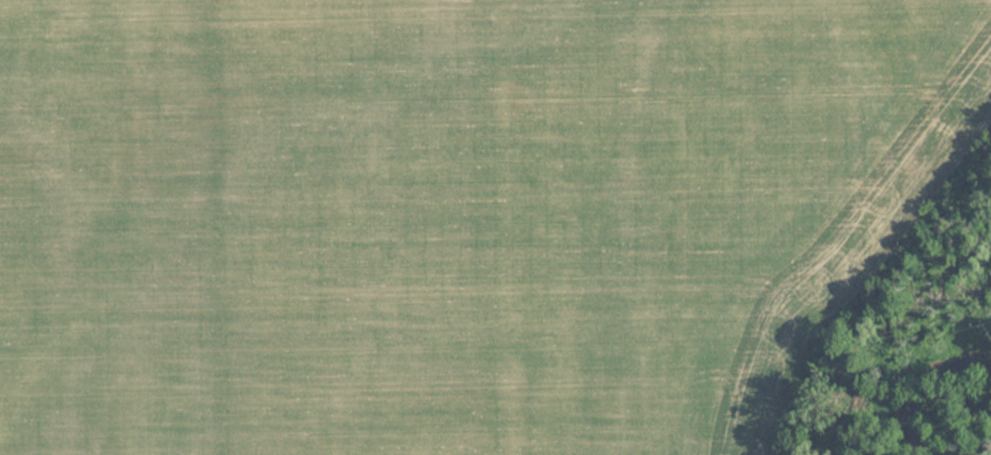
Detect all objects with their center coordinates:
river: (926, 388)

